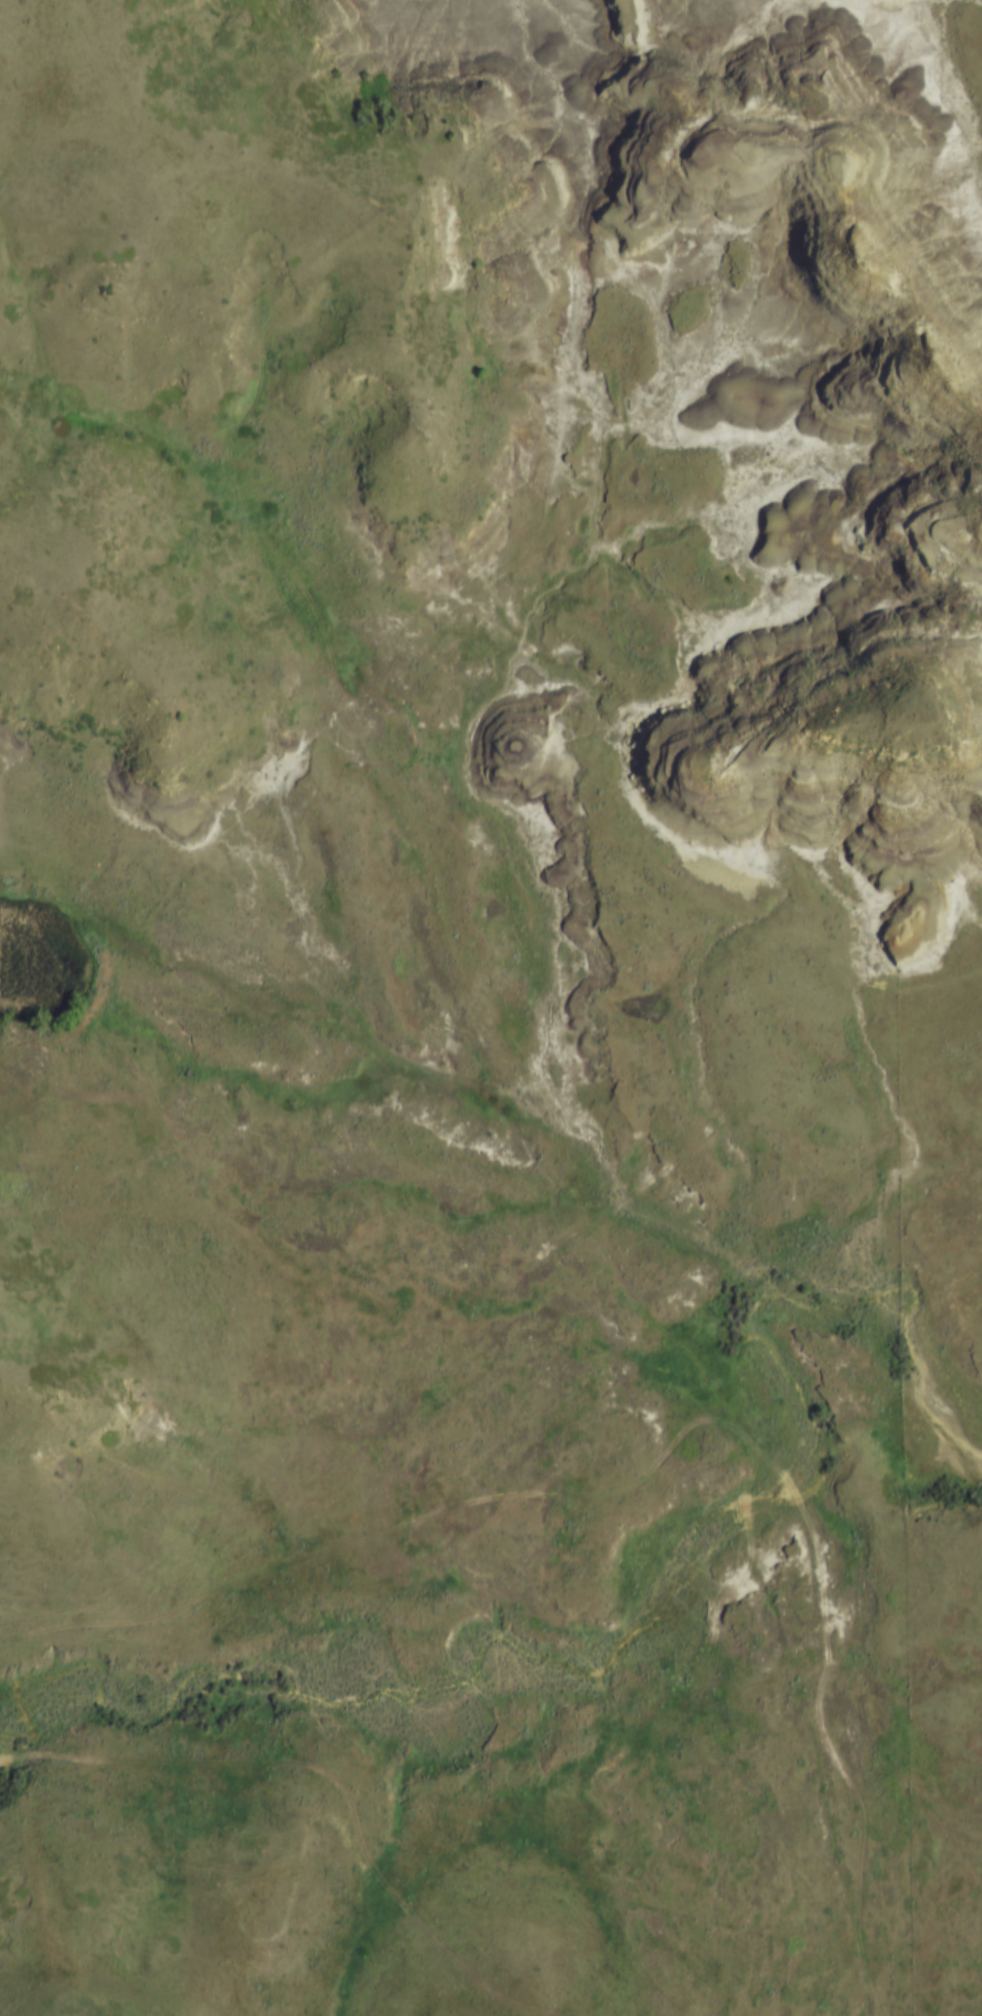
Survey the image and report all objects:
road: (551, 1502)
road: (329, 1777)

